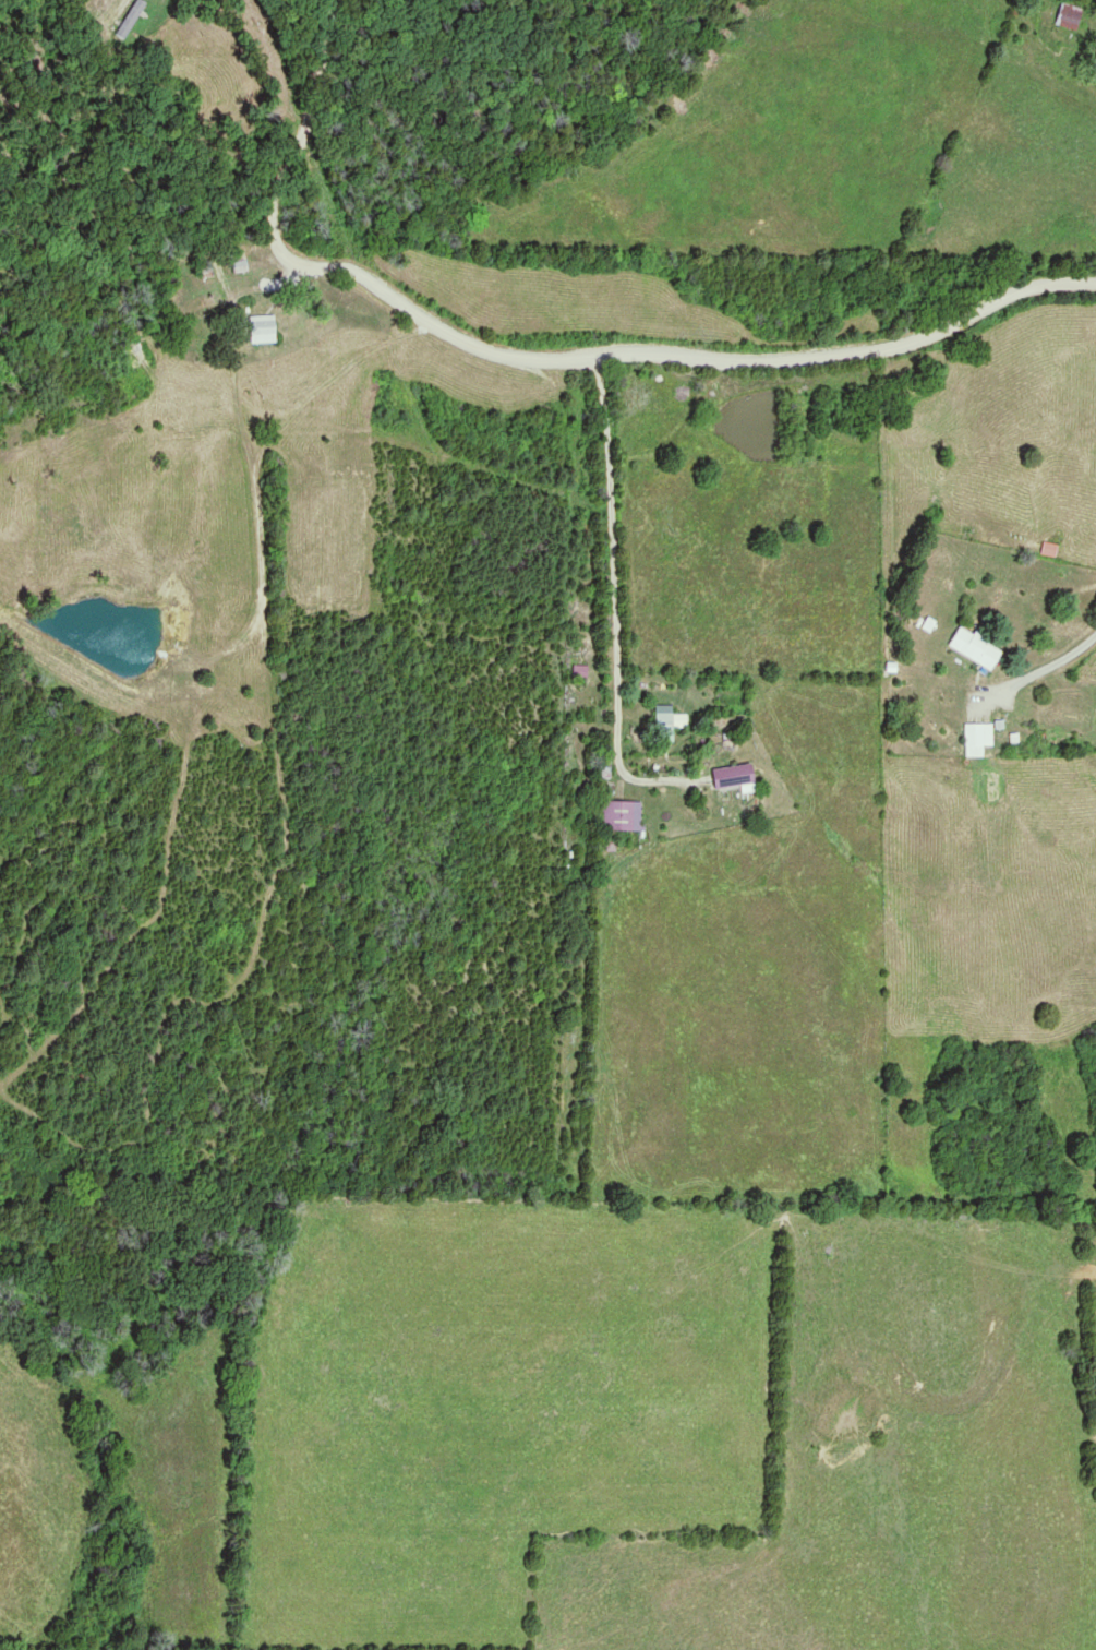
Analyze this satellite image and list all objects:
building: (1068, 16)
building: (262, 330)
road: (547, 360)
building: (1047, 550)
road: (616, 595)
building: (974, 648)
building: (667, 722)
building: (977, 739)
building: (735, 778)
building: (623, 816)

